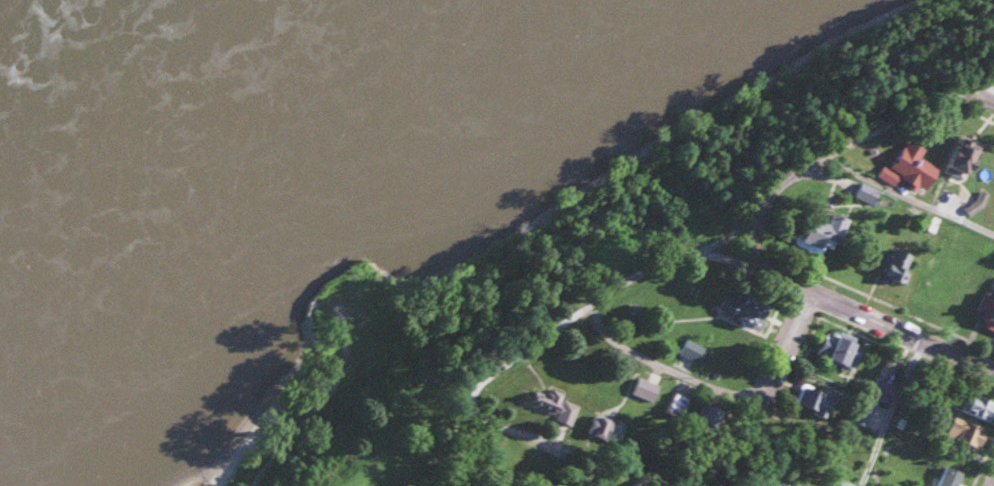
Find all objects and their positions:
park: (943, 35)
river: (49, 39)
road: (970, 95)
building: (963, 157)
building: (914, 166)
road: (766, 197)
road: (904, 200)
building: (823, 232)
road: (751, 246)
building: (899, 266)
building: (743, 309)
road: (845, 313)
building: (989, 316)
road: (777, 344)
building: (840, 347)
road: (655, 366)
road: (481, 379)
building: (883, 388)
building: (648, 390)
building: (822, 401)
building: (552, 404)
building: (676, 404)
building: (979, 407)
building: (864, 410)
road: (882, 414)
building: (710, 415)
building: (603, 429)
building: (966, 431)
building: (951, 477)
building: (845, 483)

